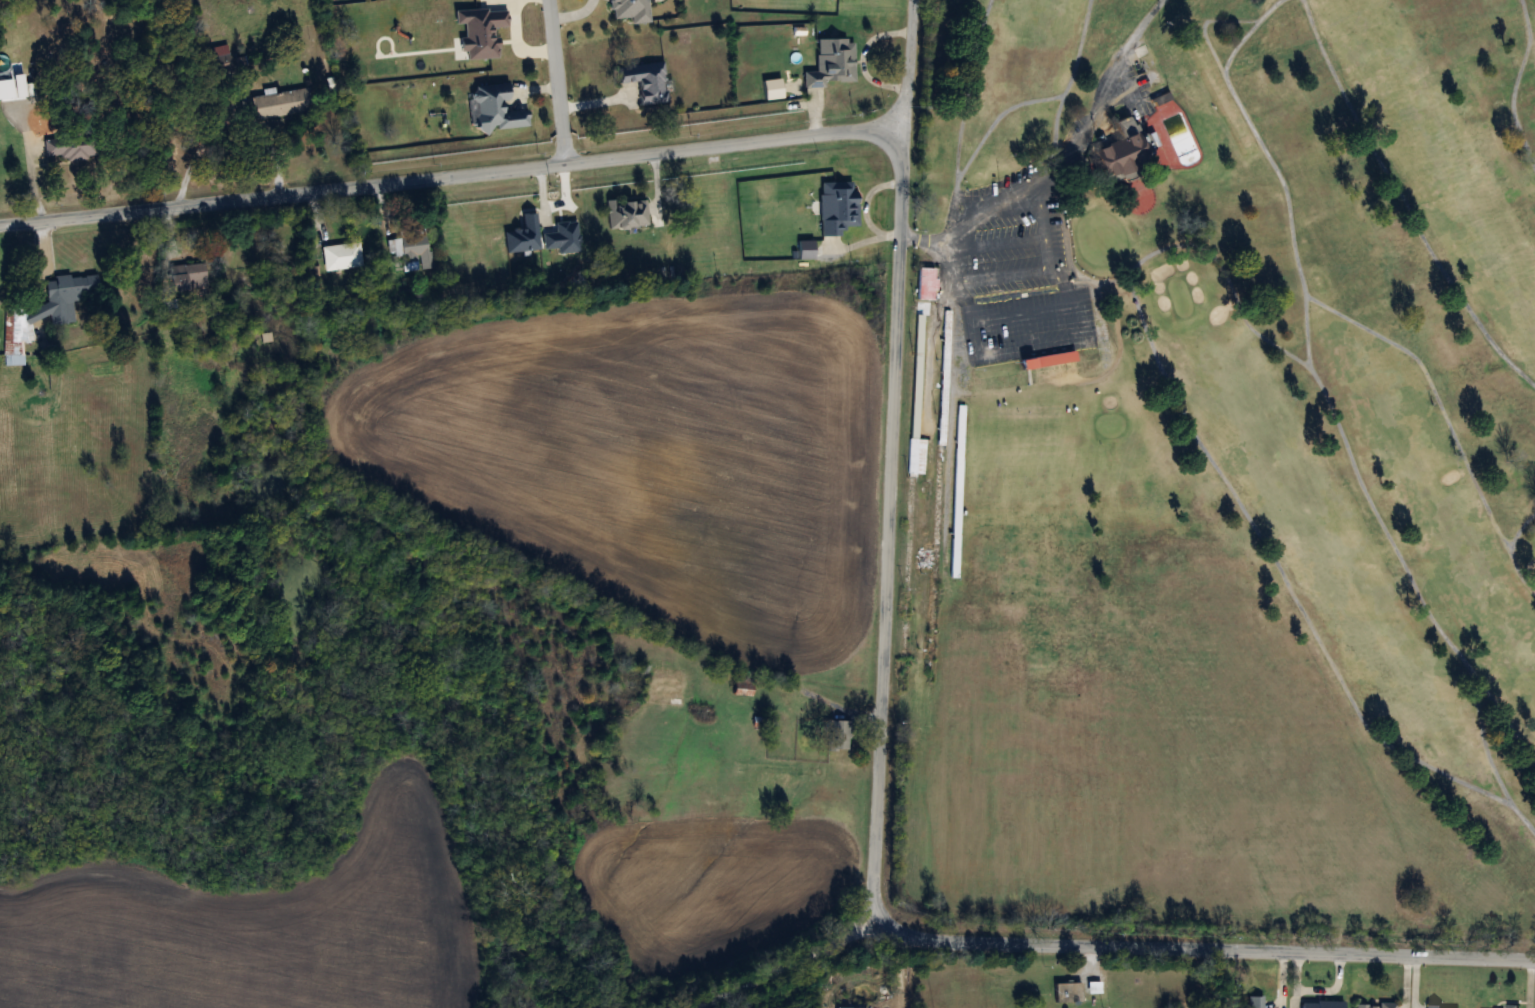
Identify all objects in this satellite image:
building: (631, 10)
building: (217, 59)
building: (832, 63)
road: (907, 63)
building: (647, 81)
road: (556, 82)
building: (12, 87)
building: (1160, 100)
building: (281, 103)
building: (496, 109)
building: (71, 146)
building: (1125, 152)
road: (31, 175)
road: (452, 176)
road: (1018, 195)
building: (837, 207)
building: (627, 214)
building: (524, 236)
building: (411, 252)
building: (341, 256)
building: (188, 277)
building: (927, 285)
building: (44, 313)
building: (1049, 360)
building: (945, 368)
building: (958, 491)
building: (911, 495)
building: (908, 567)
building: (665, 687)
building: (742, 688)
building: (838, 735)
road: (873, 852)
road: (792, 962)
building: (1068, 992)
building: (1255, 1002)
building: (1323, 1004)
building: (1375, 1005)
building: (1435, 1006)
building: (1512, 1006)

